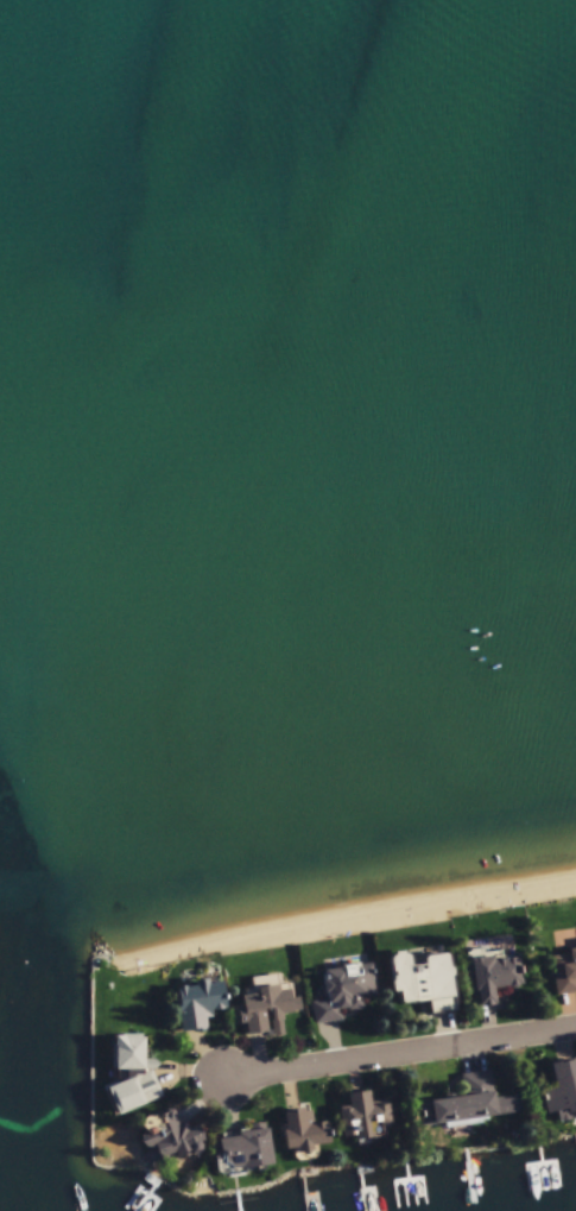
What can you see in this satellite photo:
building: (564, 975)
building: (493, 978)
building: (419, 984)
building: (346, 994)
building: (200, 1007)
building: (287, 1013)
road: (398, 1055)
building: (132, 1078)
building: (563, 1097)
building: (477, 1105)
building: (365, 1119)
building: (304, 1134)
building: (171, 1140)
building: (245, 1154)

